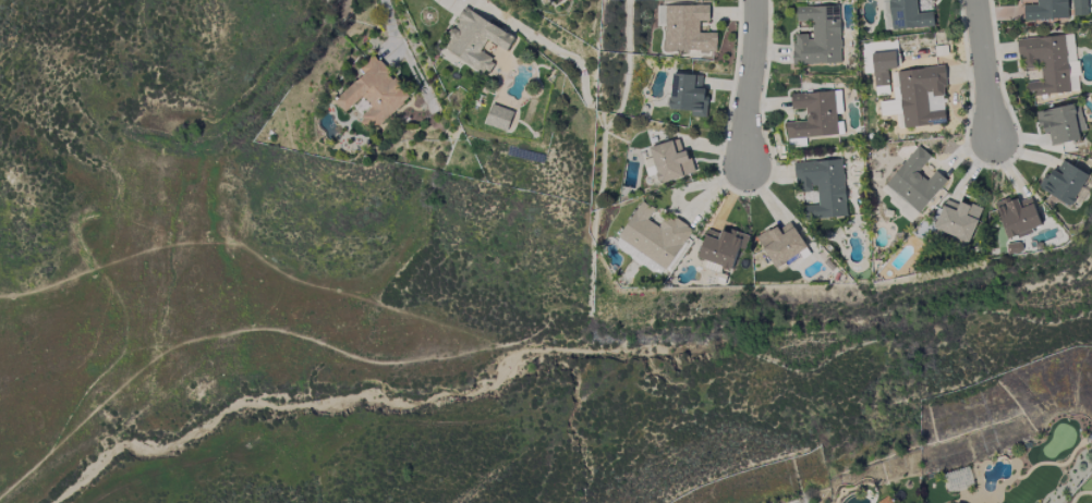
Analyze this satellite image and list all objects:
building: (1079, 8)
building: (1045, 10)
building: (908, 15)
road: (390, 28)
building: (687, 28)
building: (818, 36)
building: (475, 39)
building: (1051, 63)
building: (884, 66)
road: (978, 71)
road: (748, 78)
building: (374, 94)
building: (688, 94)
building: (922, 97)
building: (890, 106)
building: (813, 115)
building: (498, 118)
building: (1061, 123)
building: (667, 161)
building: (914, 181)
building: (1063, 183)
building: (823, 187)
building: (1017, 216)
building: (957, 219)
building: (654, 235)
building: (781, 244)
building: (721, 247)

